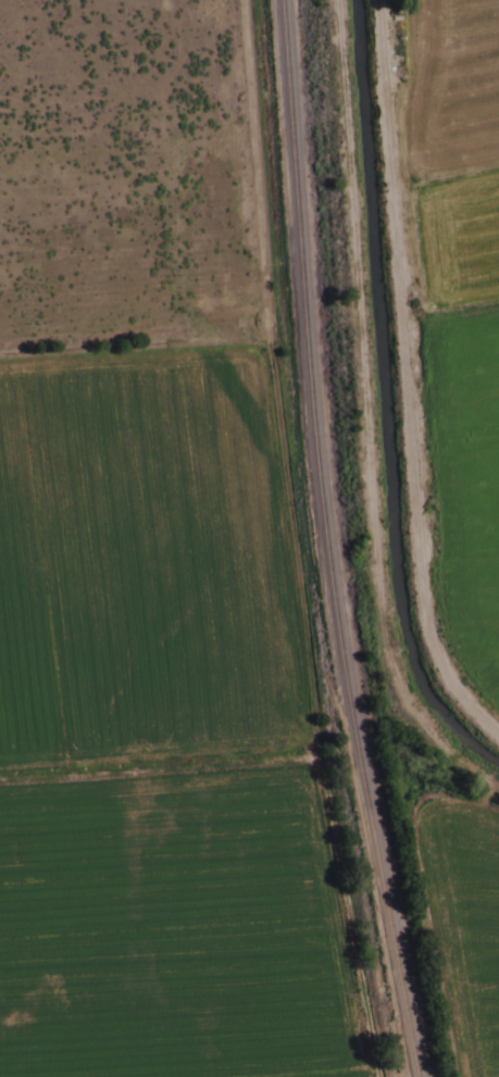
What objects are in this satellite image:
road: (415, 371)
railway: (322, 541)

